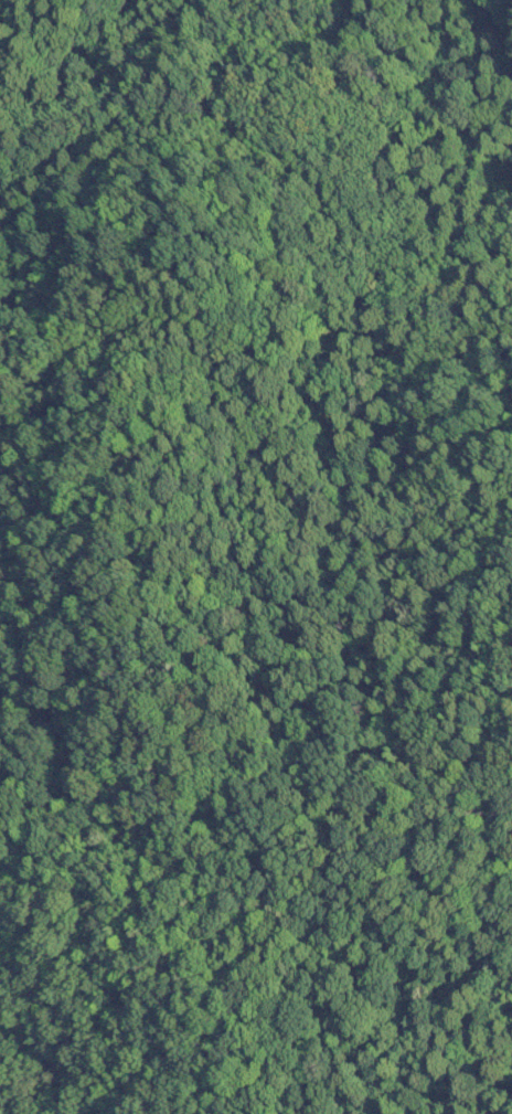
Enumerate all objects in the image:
road: (28, 1073)

